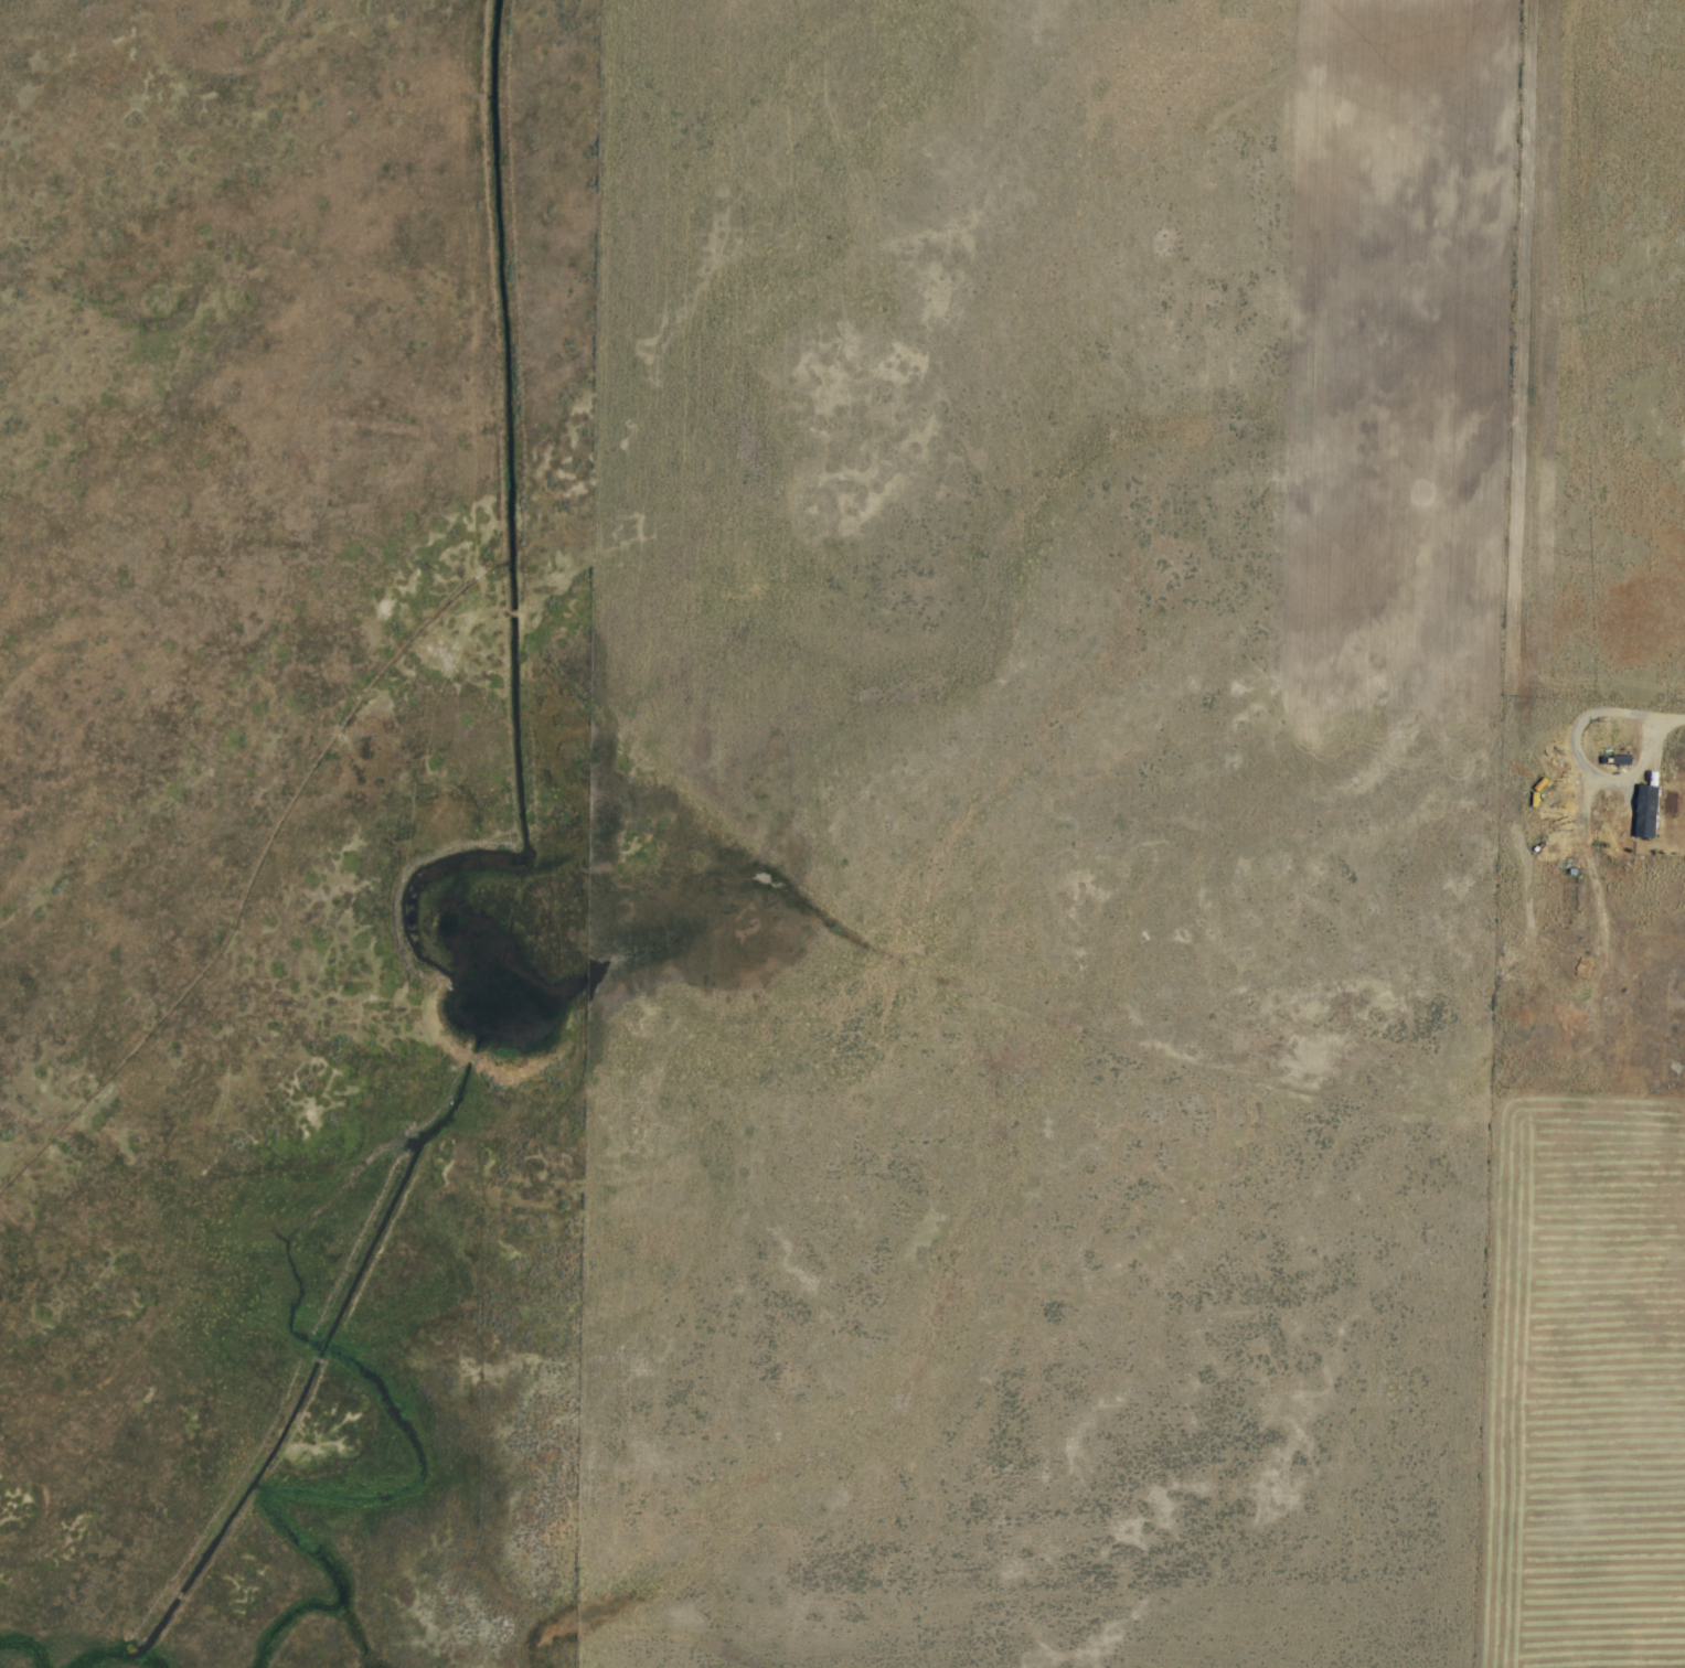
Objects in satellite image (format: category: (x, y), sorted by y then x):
road: (1646, 728)
building: (1645, 808)
crop: (842, 834)

